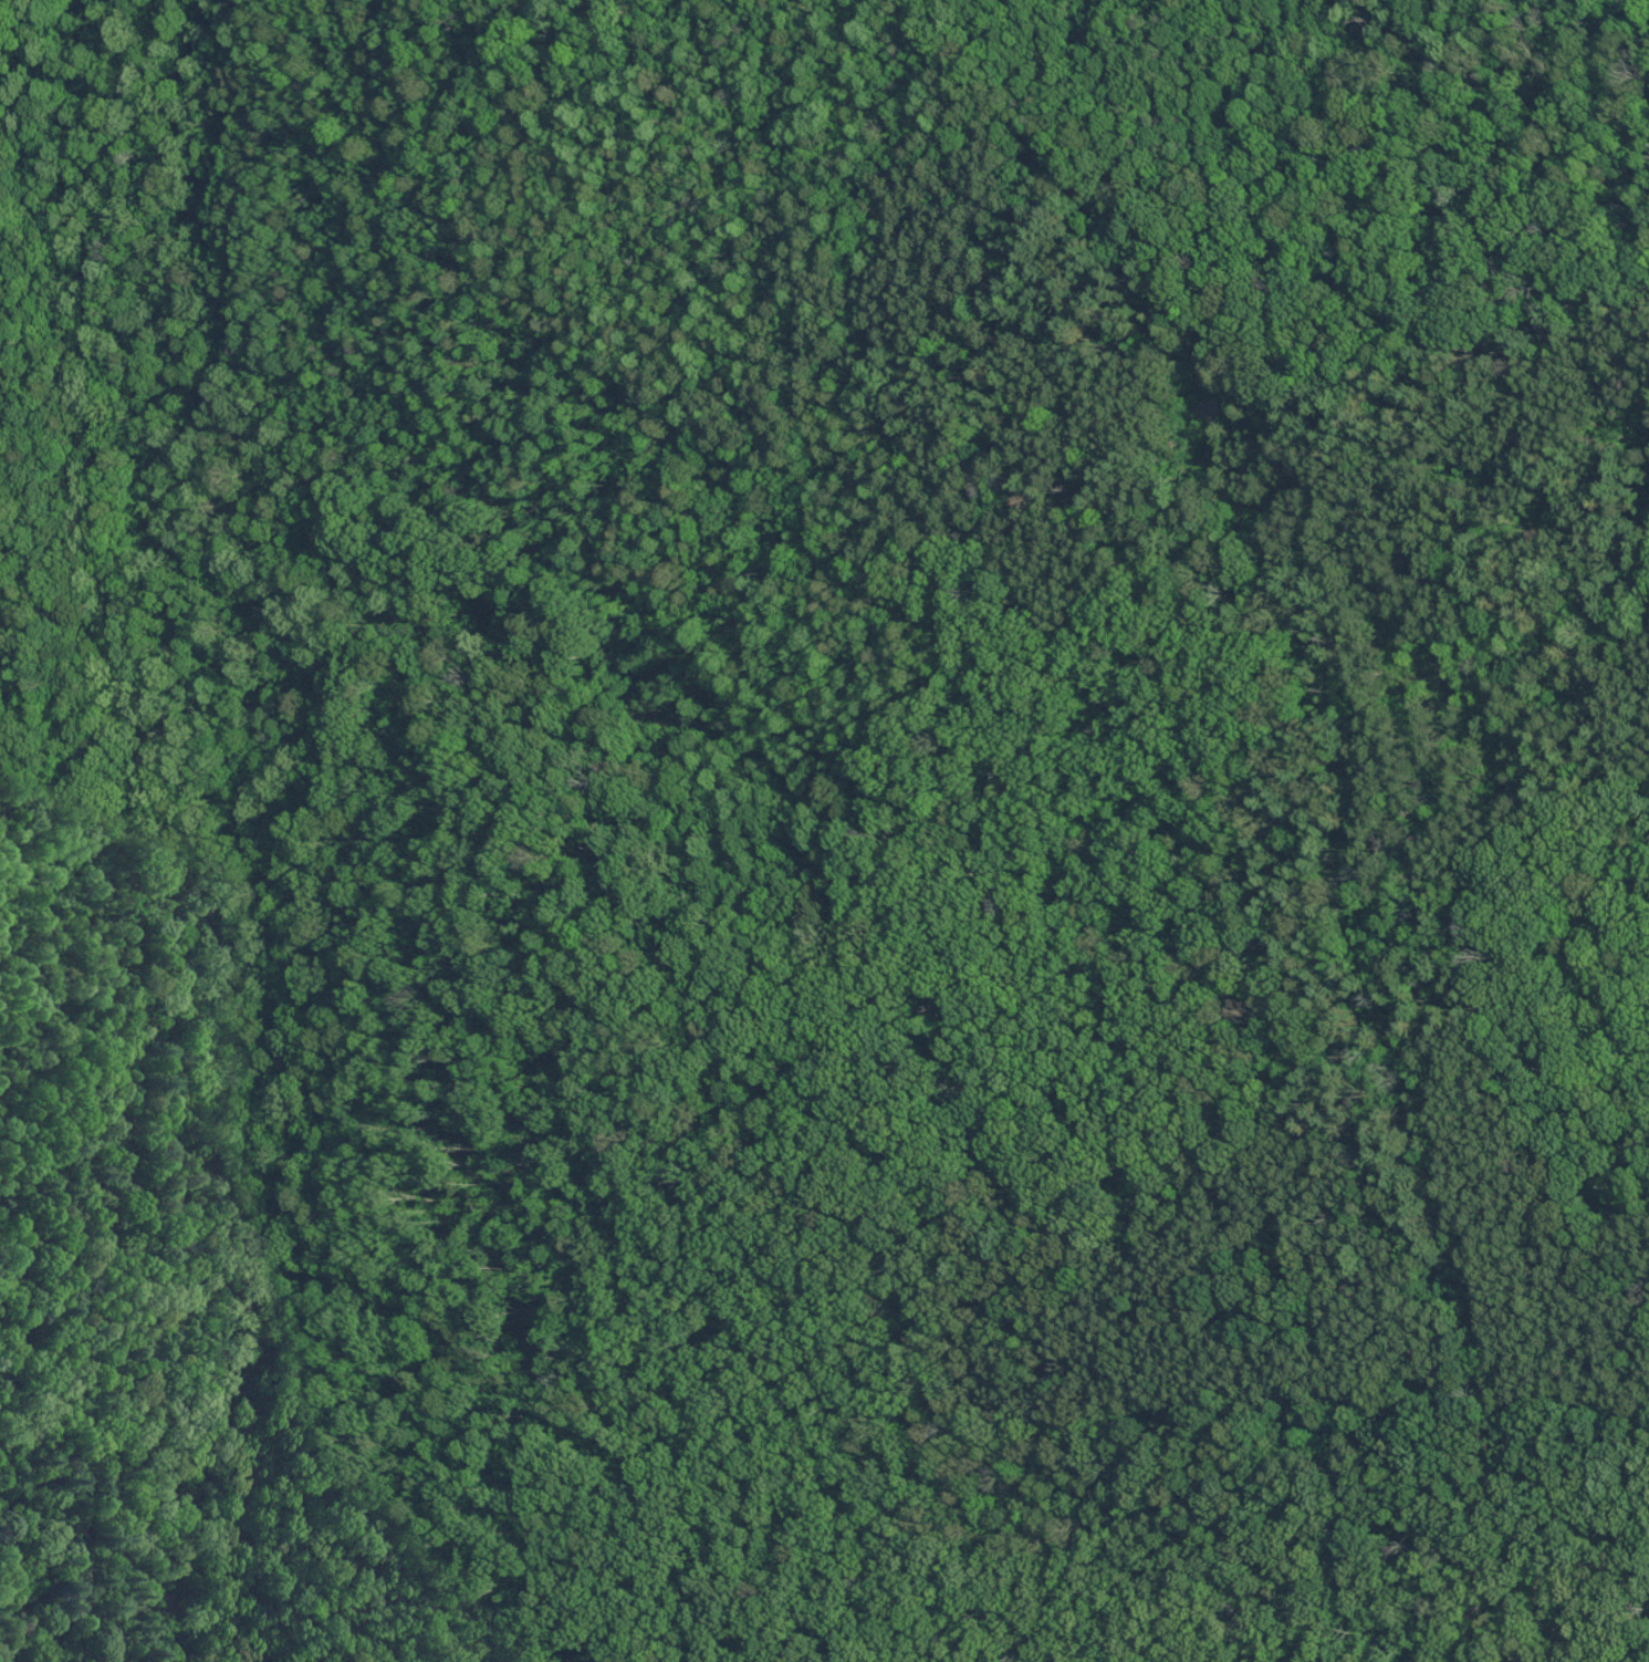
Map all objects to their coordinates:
road: (6, 25)
road: (777, 456)
road: (13, 708)
road: (1415, 1076)

